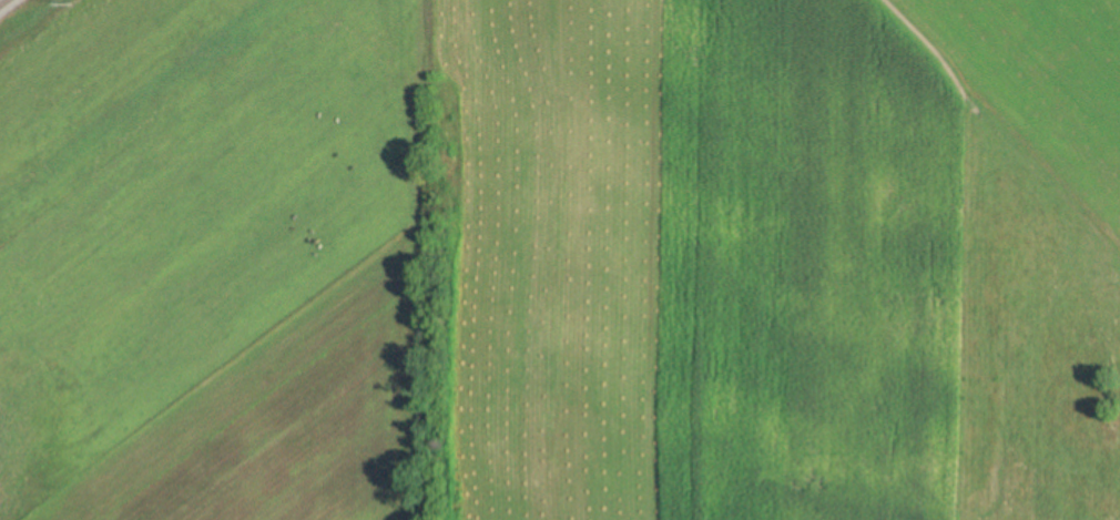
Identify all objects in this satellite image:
railway: (1, 0)
road: (406, 258)

